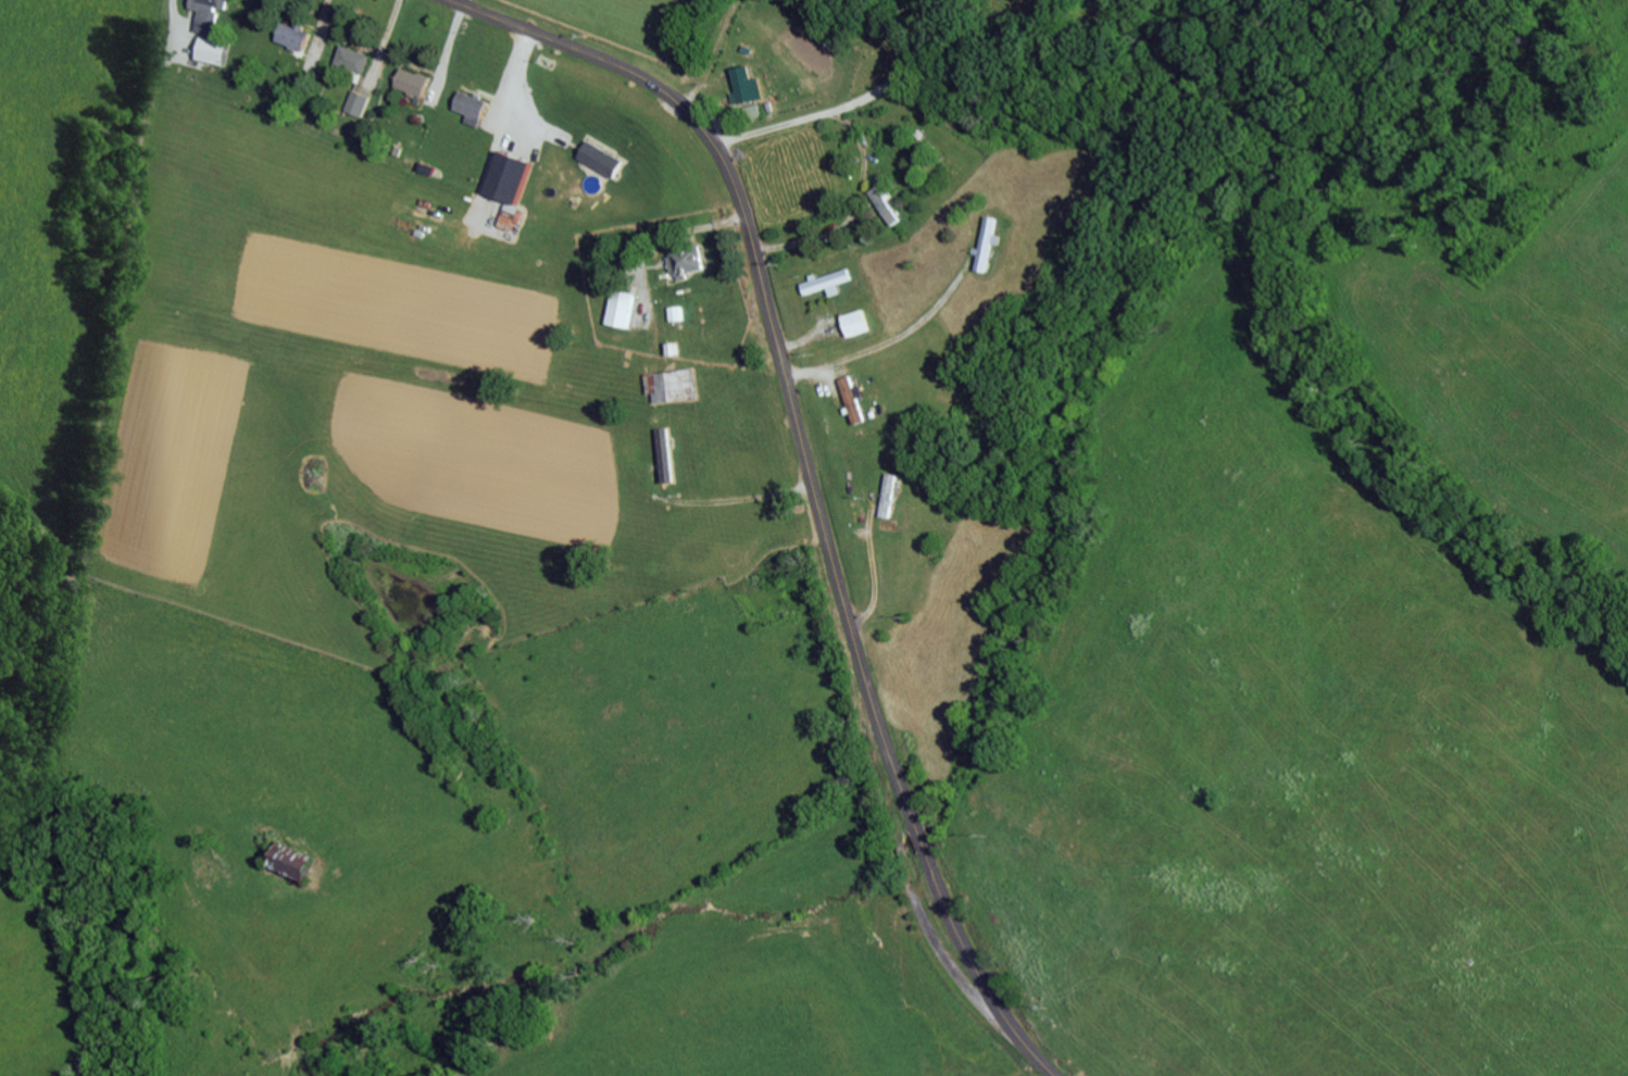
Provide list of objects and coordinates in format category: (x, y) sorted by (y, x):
building: (203, 14)
building: (289, 35)
building: (208, 49)
road: (712, 58)
building: (350, 60)
building: (409, 80)
building: (743, 85)
building: (354, 101)
road: (847, 101)
building: (468, 105)
building: (751, 110)
building: (505, 176)
building: (882, 203)
road: (851, 207)
building: (684, 259)
building: (825, 280)
building: (617, 308)
building: (851, 322)
building: (667, 384)
building: (849, 398)
road: (807, 475)
building: (886, 495)
road: (1320, 717)
building: (287, 859)

